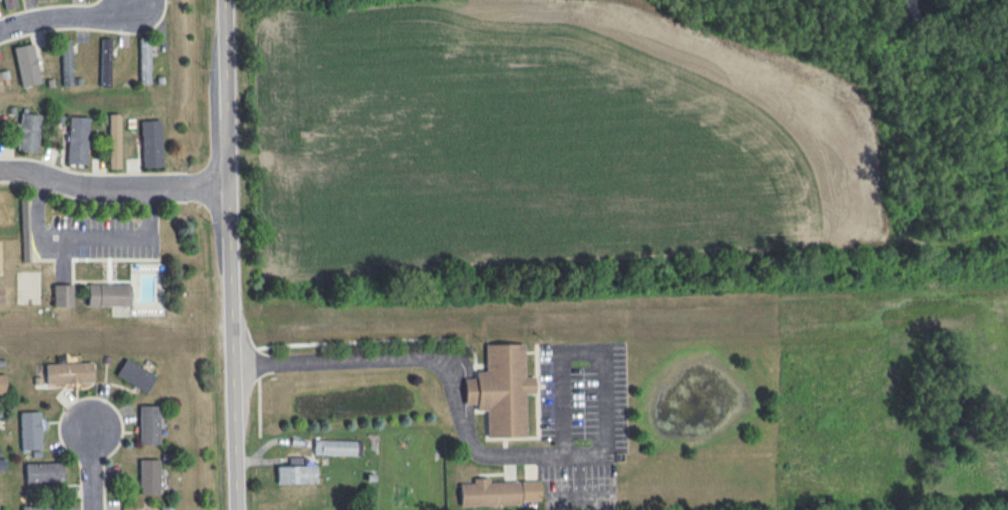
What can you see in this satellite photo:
building: (9, 3)
road: (66, 22)
building: (144, 60)
building: (105, 61)
building: (66, 62)
building: (26, 64)
building: (0, 86)
building: (28, 132)
building: (77, 140)
building: (113, 140)
building: (150, 143)
crop: (552, 151)
road: (113, 191)
road: (86, 238)
road: (229, 255)
building: (108, 294)
building: (62, 295)
road: (580, 352)
road: (445, 365)
building: (69, 372)
building: (135, 375)
building: (2, 383)
building: (501, 389)
building: (148, 424)
building: (30, 430)
building: (337, 447)
building: (2, 464)
road: (91, 471)
building: (43, 472)
building: (295, 472)
building: (148, 476)
building: (529, 490)
building: (488, 492)

